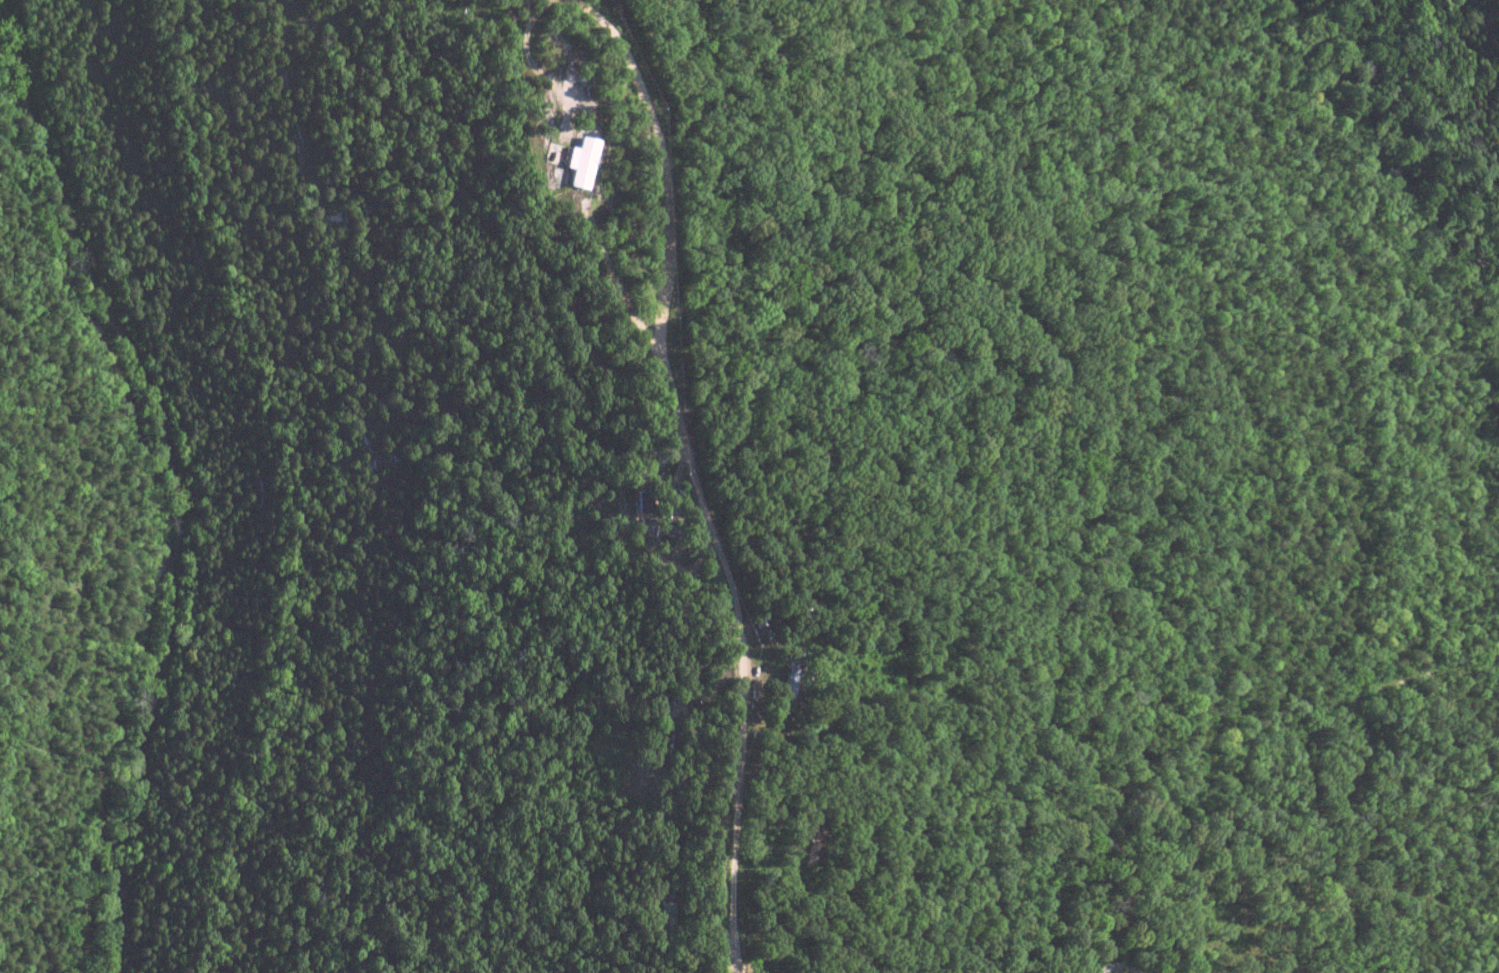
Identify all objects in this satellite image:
building: (582, 161)
road: (693, 473)

